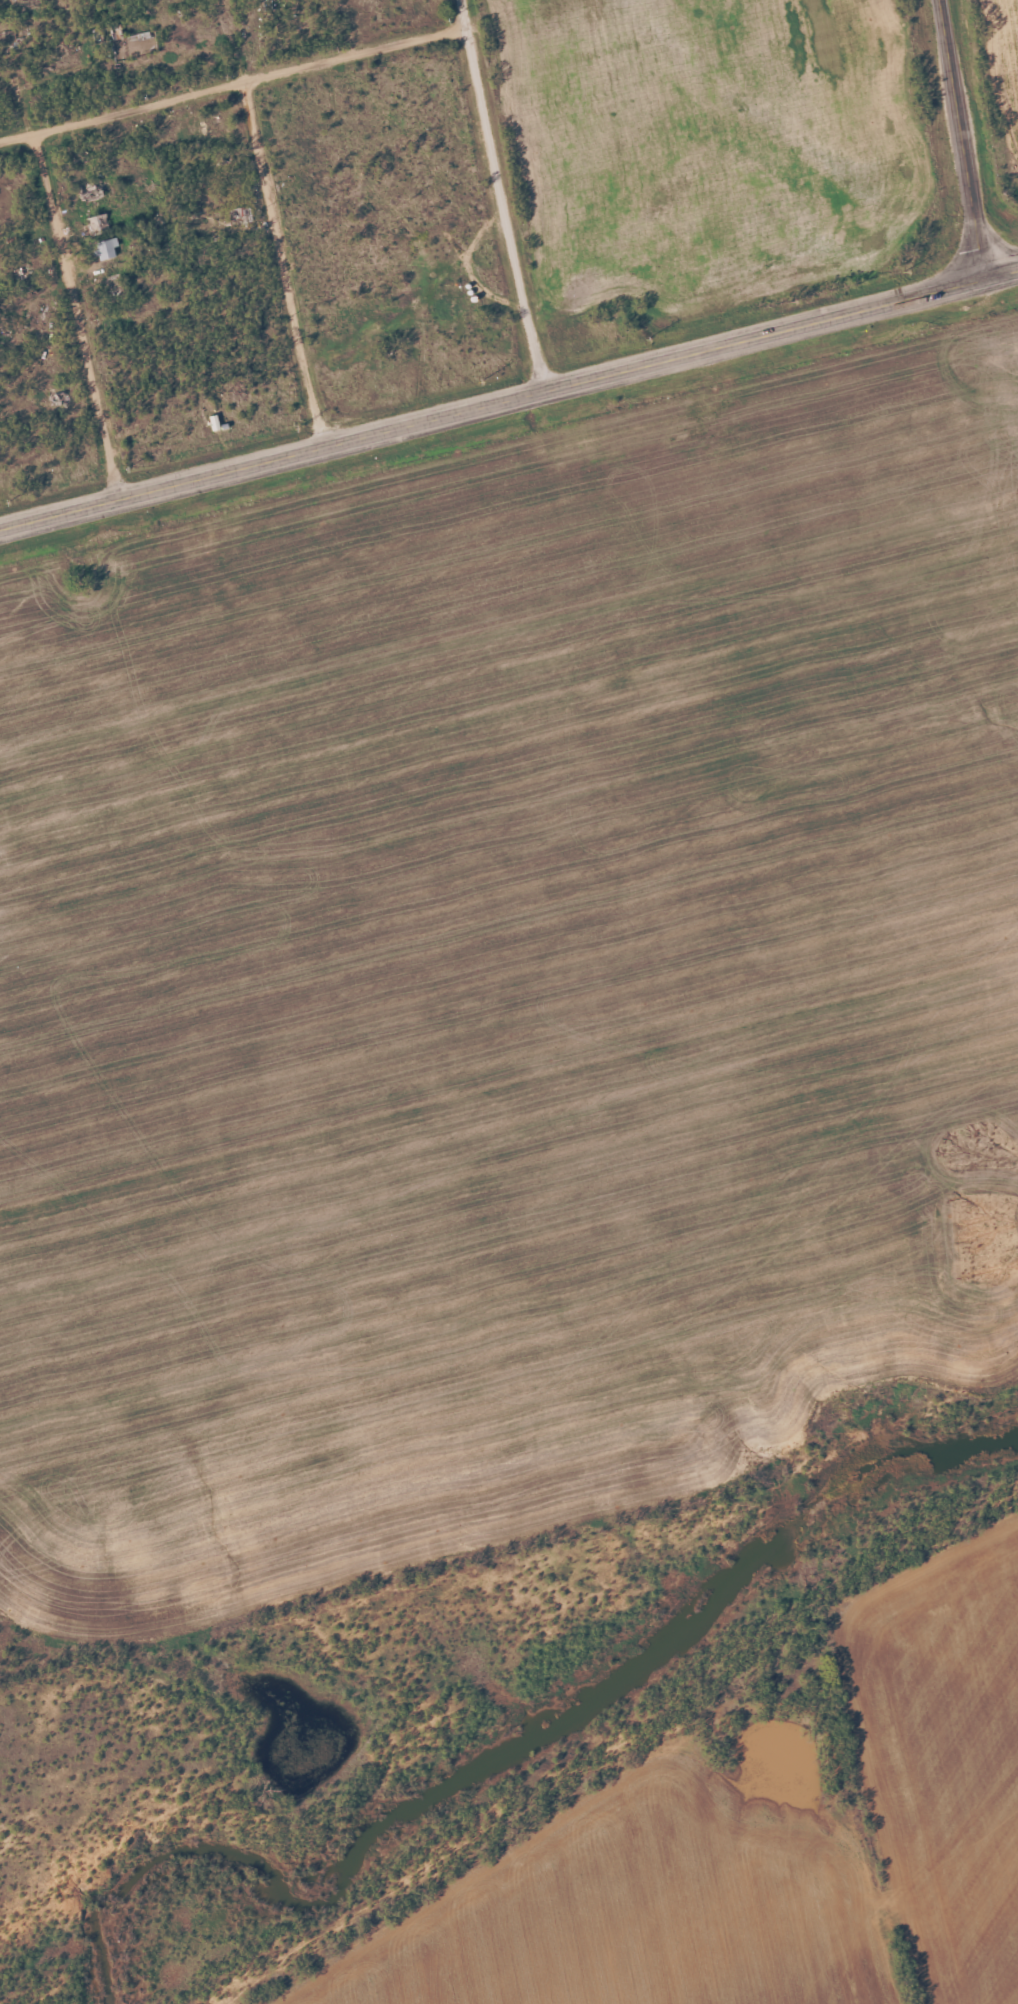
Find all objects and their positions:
road: (250, 84)
road: (17, 137)
road: (961, 140)
road: (501, 195)
building: (97, 224)
building: (105, 248)
road: (278, 268)
road: (77, 316)
road: (509, 400)

